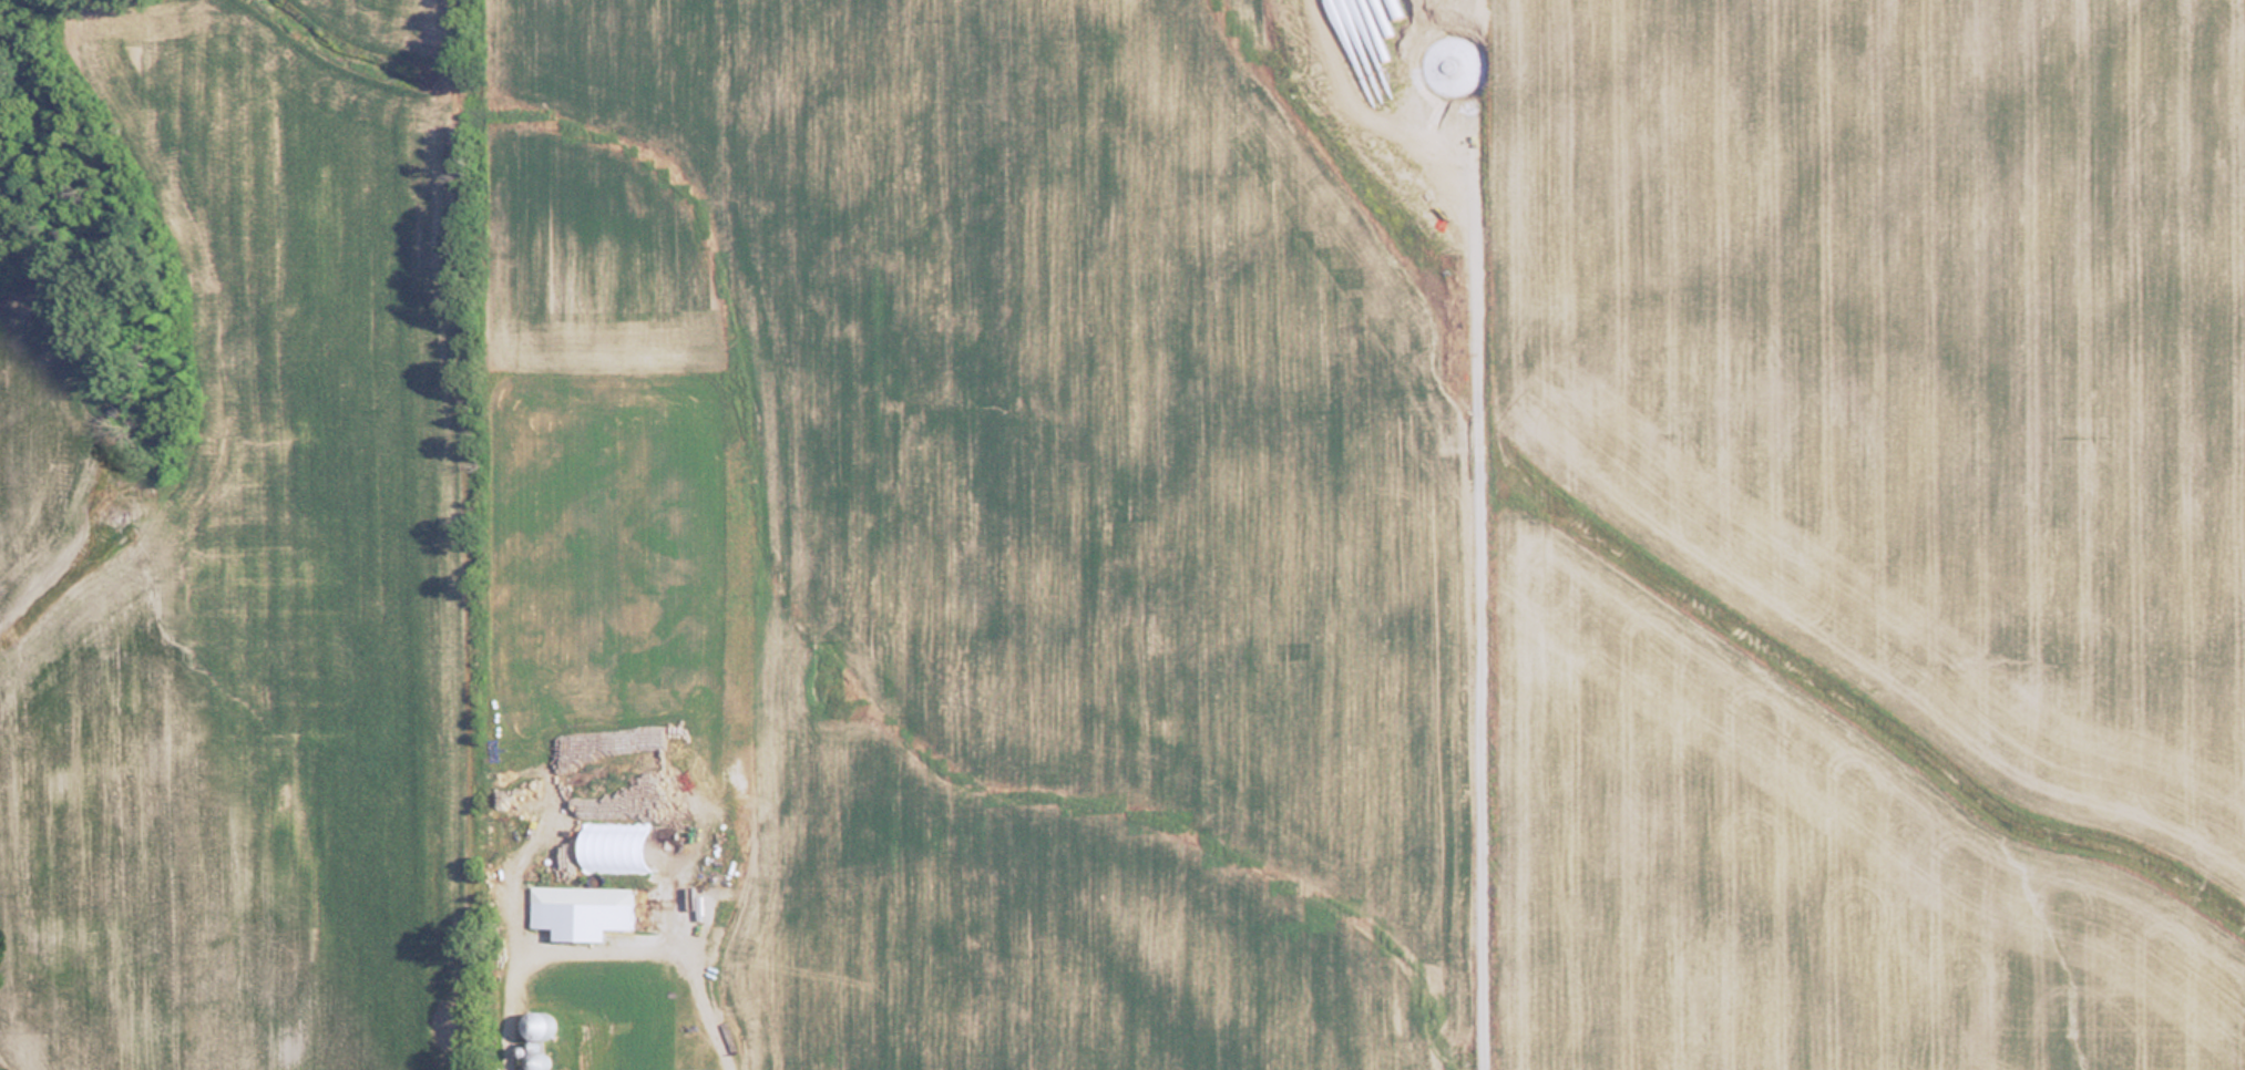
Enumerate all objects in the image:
building: (576, 910)
road: (605, 947)
building: (534, 1025)
building: (535, 1061)

